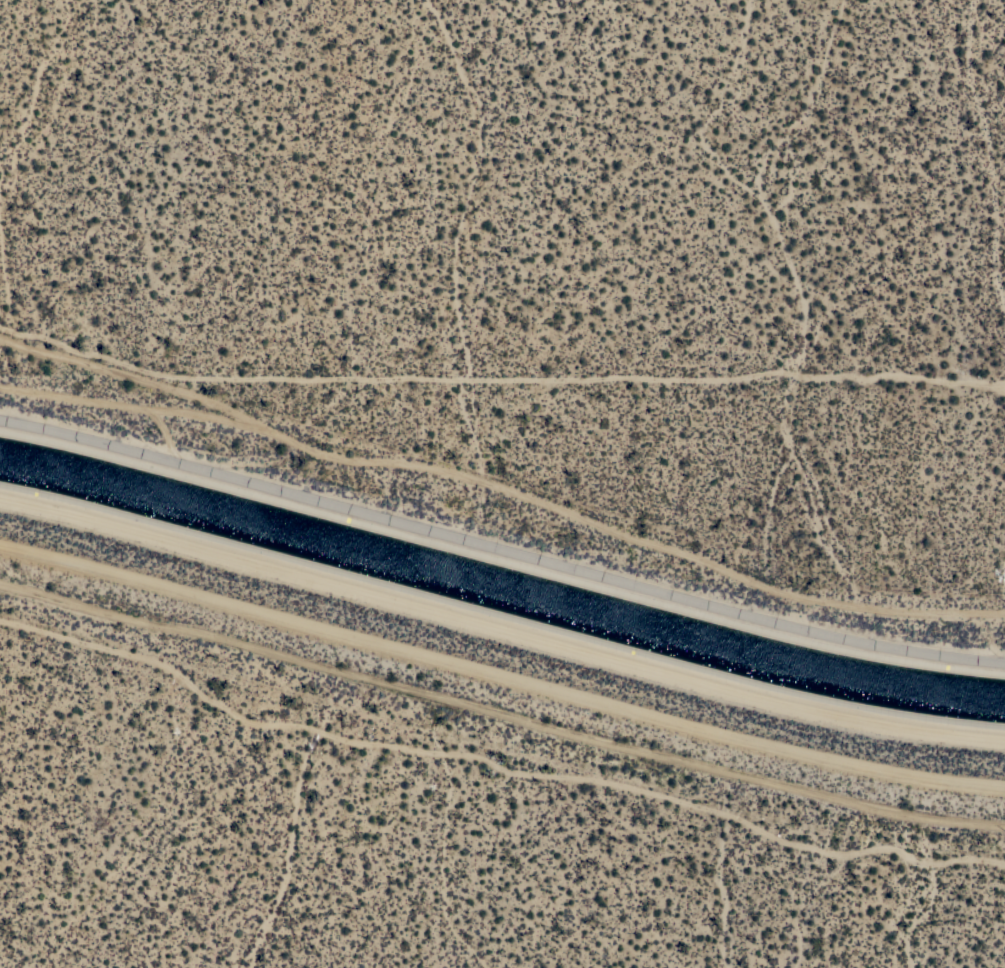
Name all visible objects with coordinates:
road: (497, 766)

